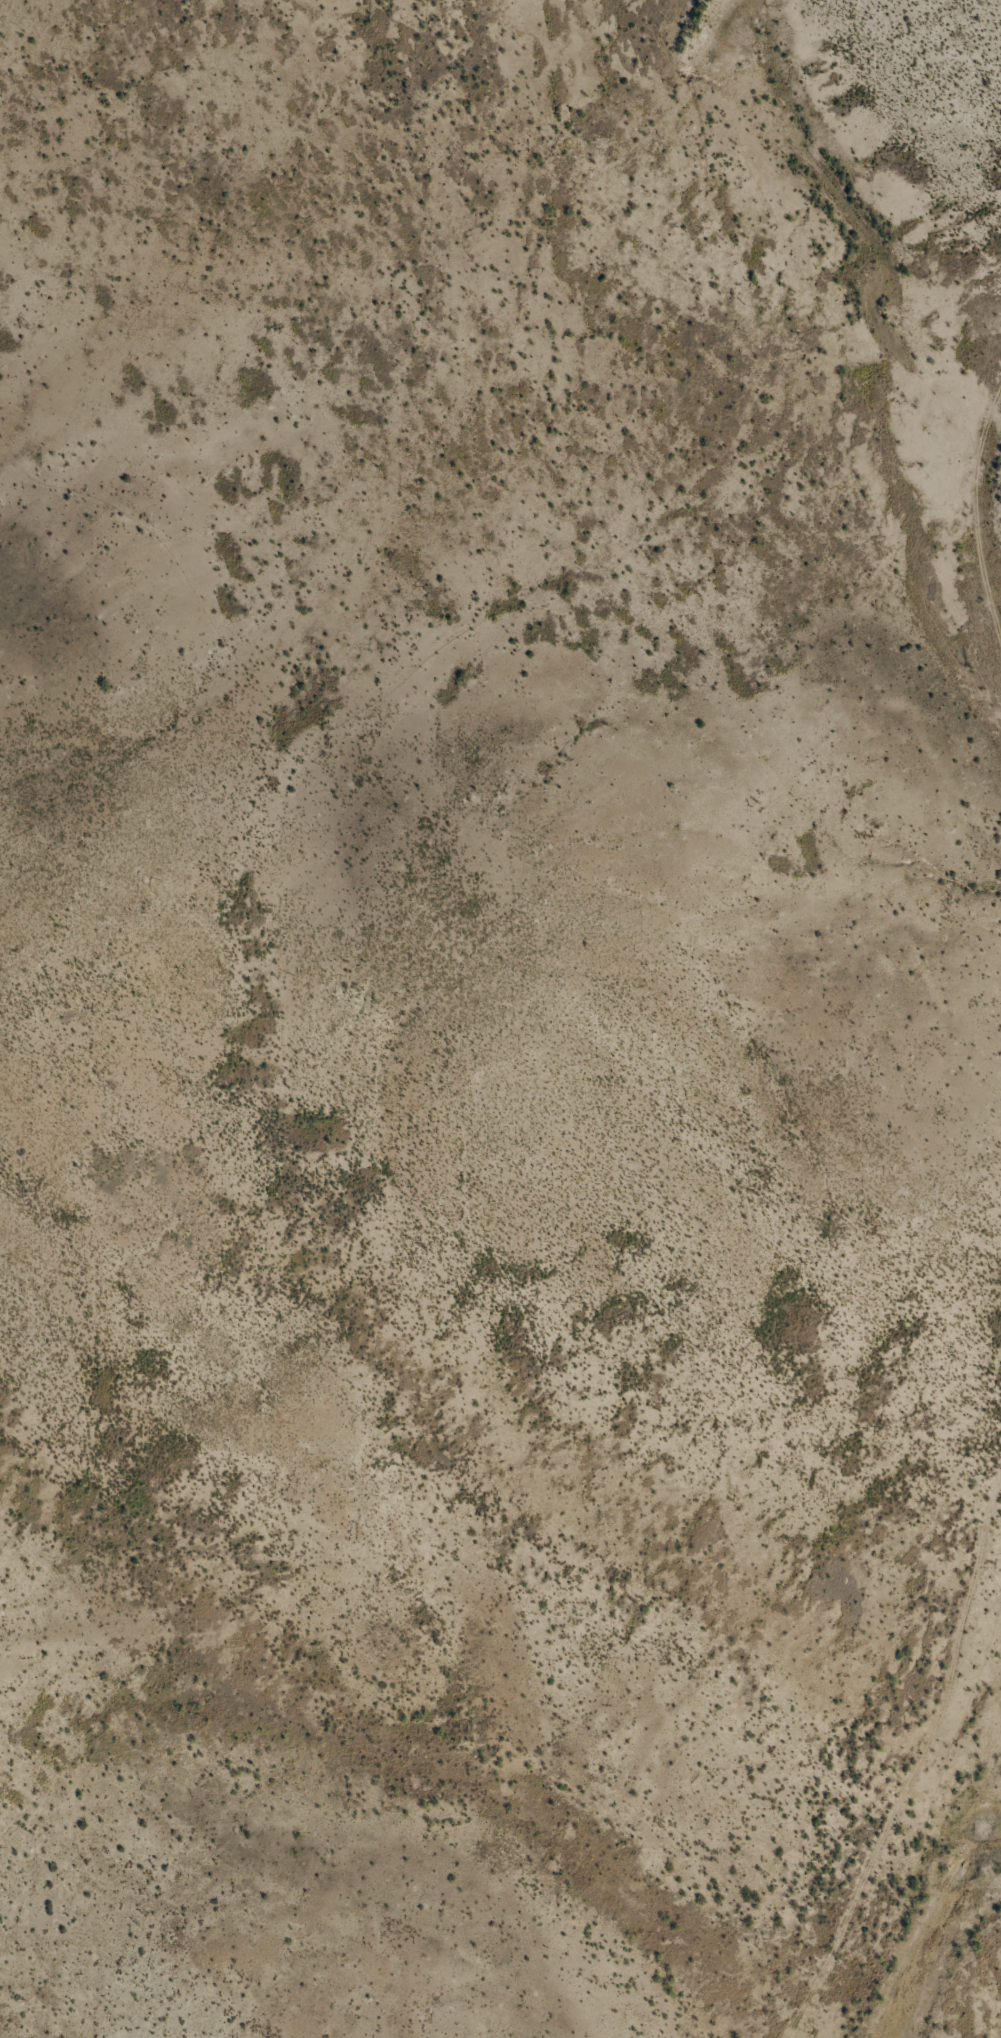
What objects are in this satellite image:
road: (997, 628)
road: (478, 657)
road: (908, 1766)

